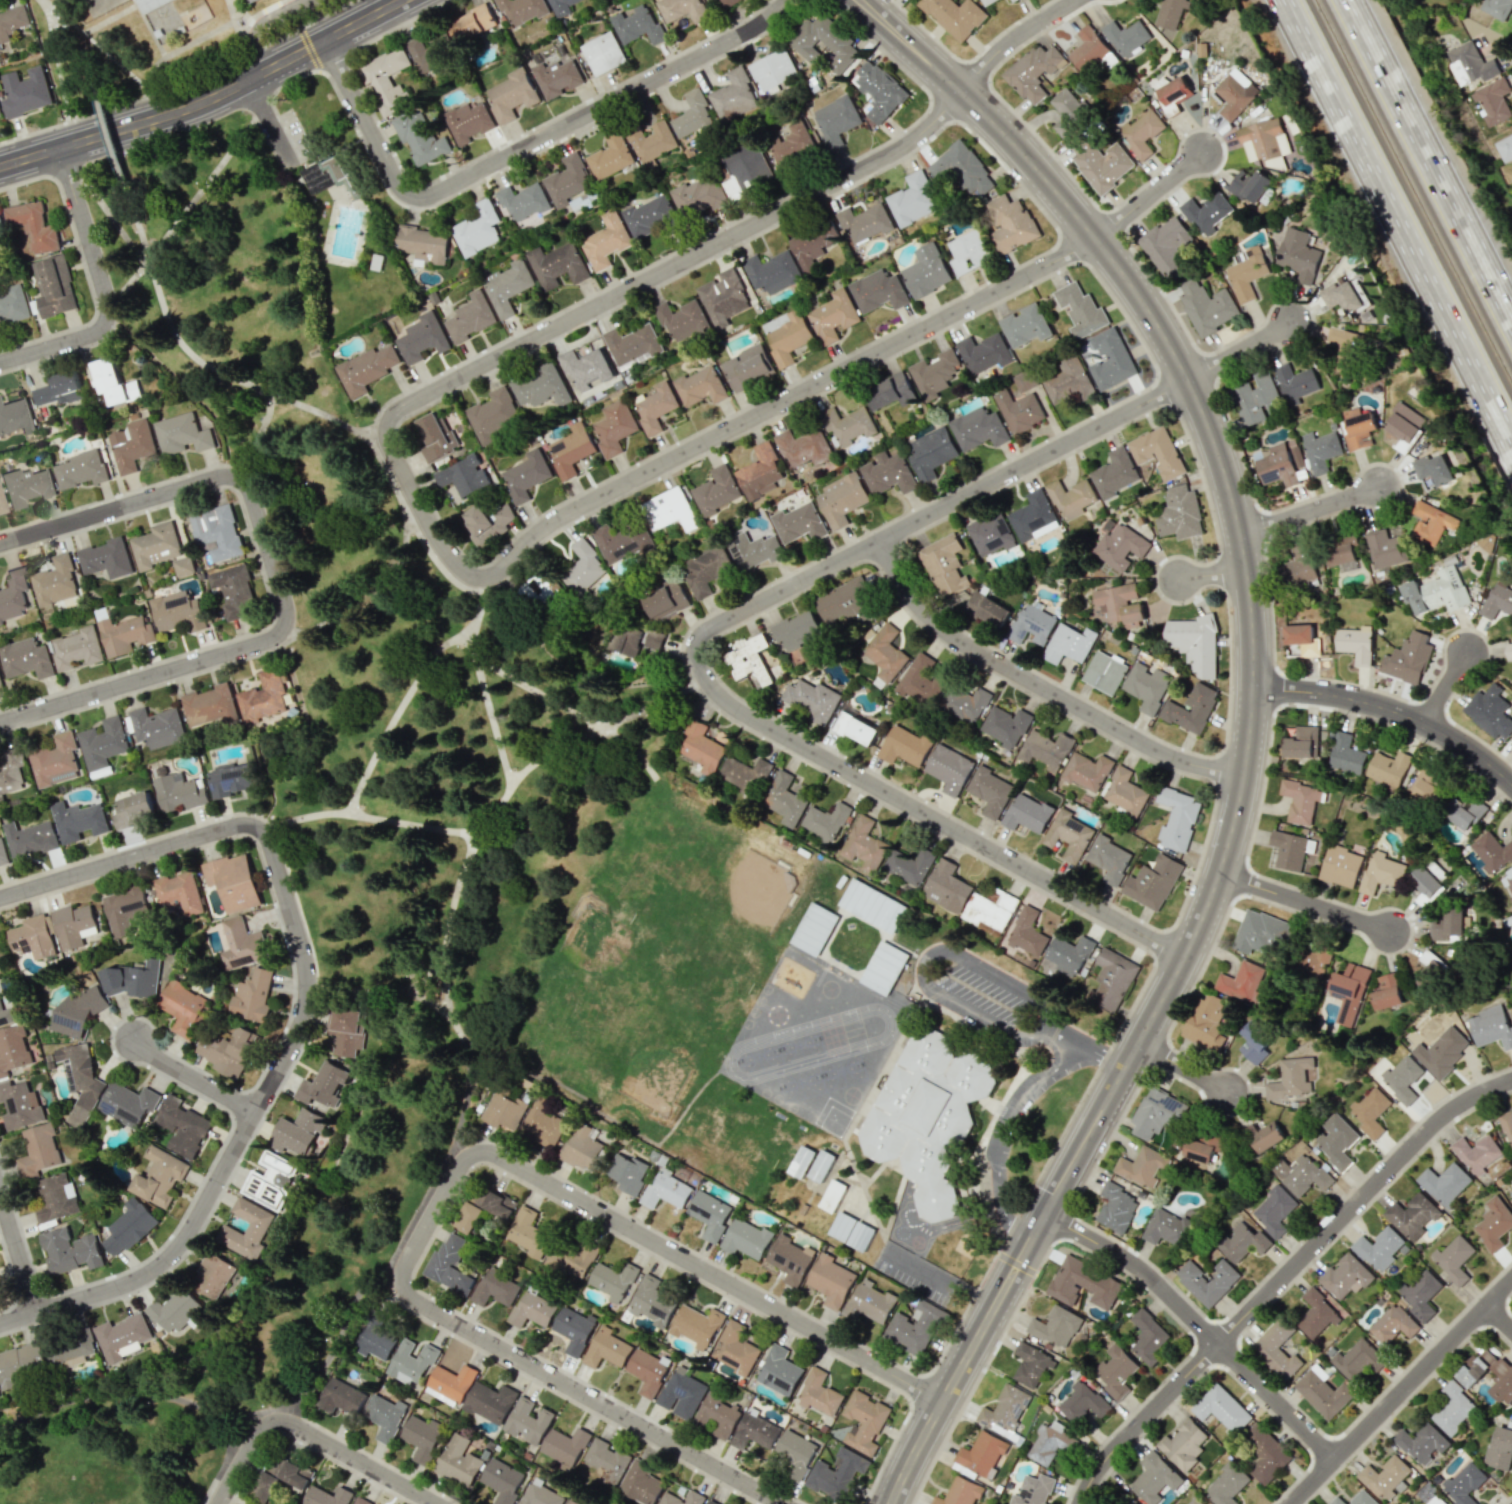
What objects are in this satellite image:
building: (250, 0)
building: (252, 0)
building: (1012, 0)
building: (729, 2)
building: (986, 2)
building: (151, 5)
road: (382, 5)
building: (561, 7)
building: (1496, 8)
building: (522, 9)
building: (682, 9)
building: (1169, 14)
building: (954, 16)
building: (12, 21)
building: (473, 23)
road: (267, 25)
building: (637, 25)
building: (1126, 36)
road: (1013, 37)
road: (63, 38)
building: (825, 42)
building: (0, 48)
building: (1088, 49)
building: (432, 51)
building: (603, 53)
building: (1470, 63)
building: (773, 69)
road: (55, 71)
building: (1033, 72)
building: (557, 78)
building: (387, 81)
building: (879, 90)
building: (26, 92)
building: (1234, 93)
building: (1173, 94)
building: (512, 95)
building: (734, 95)
road: (209, 99)
building: (1492, 100)
building: (1068, 111)
building: (0, 113)
building: (693, 117)
building: (836, 120)
building: (468, 121)
road: (269, 127)
building: (1141, 132)
road: (108, 134)
parking lot: (294, 136)
building: (419, 137)
building: (1263, 140)
building: (651, 142)
building: (793, 145)
road: (523, 147)
building: (1504, 148)
building: (610, 156)
building: (1100, 162)
road: (1430, 162)
building: (962, 169)
building: (745, 170)
road: (209, 175)
building: (328, 175)
building: (568, 180)
building: (1249, 185)
road: (1149, 194)
building: (696, 196)
building: (912, 200)
building: (523, 201)
building: (1206, 212)
building: (648, 215)
road: (1399, 220)
building: (865, 222)
building: (1010, 224)
building: (34, 225)
building: (477, 228)
building: (1, 234)
building: (606, 241)
building: (423, 244)
building: (813, 244)
building: (1167, 246)
building: (968, 252)
building: (1298, 254)
building: (557, 265)
building: (926, 270)
building: (772, 271)
building: (1246, 272)
building: (507, 286)
building: (54, 287)
road: (104, 290)
building: (878, 291)
building: (1341, 296)
building: (724, 297)
road: (1142, 301)
building: (13, 305)
building: (1207, 306)
building: (1080, 310)
building: (833, 316)
building: (469, 317)
building: (682, 319)
building: (1025, 325)
building: (787, 335)
building: (422, 338)
building: (631, 344)
building: (1344, 348)
building: (984, 353)
building: (1110, 359)
building: (748, 367)
building: (587, 368)
building: (365, 369)
building: (935, 373)
building: (1024, 381)
building: (1069, 381)
building: (113, 383)
building: (1295, 383)
building: (540, 386)
building: (700, 386)
building: (58, 389)
building: (891, 391)
building: (1256, 399)
road: (289, 400)
building: (655, 407)
building: (1019, 410)
building: (492, 414)
building: (15, 416)
building: (848, 424)
building: (1404, 425)
building: (614, 427)
building: (978, 428)
building: (1358, 430)
building: (181, 434)
building: (435, 437)
building: (131, 445)
building: (803, 446)
building: (571, 450)
building: (1320, 450)
building: (932, 452)
building: (1157, 452)
building: (1279, 463)
building: (80, 469)
building: (1433, 470)
building: (760, 471)
building: (888, 473)
building: (1114, 473)
building: (526, 475)
building: (463, 476)
building: (25, 486)
building: (716, 490)
building: (1071, 498)
building: (1, 506)
building: (669, 509)
road: (1308, 510)
building: (1180, 513)
building: (1033, 516)
building: (1431, 522)
building: (798, 523)
building: (486, 524)
road: (430, 525)
building: (217, 533)
building: (991, 534)
building: (1485, 540)
building: (624, 541)
building: (157, 546)
building: (1121, 547)
building: (1385, 547)
building: (754, 550)
building: (1343, 552)
building: (106, 558)
building: (944, 565)
building: (1299, 565)
building: (184, 566)
building: (584, 568)
road: (1211, 576)
road: (274, 577)
building: (56, 581)
building: (541, 586)
building: (233, 589)
building: (1436, 591)
building: (13, 595)
building: (666, 599)
building: (845, 601)
building: (1497, 601)
building: (1120, 605)
building: (987, 609)
building: (178, 611)
road: (728, 621)
building: (1031, 626)
building: (798, 629)
building: (125, 635)
building: (634, 638)
building: (1302, 639)
building: (1194, 642)
building: (1069, 643)
building: (1355, 643)
building: (77, 648)
building: (1508, 651)
building: (885, 652)
building: (25, 658)
building: (1407, 658)
building: (750, 660)
building: (1104, 672)
building: (922, 680)
road: (1041, 686)
building: (0, 687)
building: (1146, 687)
road: (1445, 689)
building: (263, 697)
building: (813, 699)
building: (965, 702)
building: (210, 705)
building: (1191, 708)
road: (1392, 711)
building: (1489, 711)
building: (1006, 726)
building: (157, 727)
building: (856, 728)
building: (1302, 742)
building: (103, 743)
building: (906, 745)
building: (702, 747)
building: (1046, 749)
building: (1346, 754)
building: (56, 760)
park: (346, 762)
building: (949, 768)
building: (11, 771)
building: (1086, 771)
building: (1387, 771)
building: (744, 773)
building: (231, 780)
building: (1428, 785)
building: (179, 791)
building: (989, 791)
building: (1124, 791)
building: (784, 799)
building: (1301, 800)
building: (132, 810)
building: (1027, 813)
building: (1464, 813)
building: (1177, 819)
building: (78, 820)
building: (825, 820)
building: (1069, 835)
building: (30, 838)
building: (863, 846)
building: (1492, 852)
building: (3, 853)
building: (1109, 858)
building: (909, 865)
building: (1340, 866)
building: (1380, 872)
building: (1507, 880)
building: (233, 881)
building: (1152, 882)
building: (1426, 885)
building: (946, 886)
building: (179, 892)
road: (1306, 903)
building: (873, 905)
building: (125, 909)
building: (990, 909)
building: (74, 926)
building: (1448, 927)
building: (814, 929)
building: (1027, 932)
building: (1262, 933)
building: (33, 937)
building: (242, 944)
building: (1068, 954)
road: (939, 955)
building: (1311, 962)
building: (884, 967)
building: (1430, 970)
building: (133, 978)
building: (1111, 979)
building: (1242, 981)
building: (1348, 992)
building: (1387, 992)
building: (253, 994)
building: (184, 1007)
building: (78, 1010)
road: (301, 1013)
building: (7, 1016)
road: (449, 1016)
building: (1207, 1022)
building: (1491, 1027)
building: (347, 1031)
building: (1255, 1042)
building: (13, 1049)
building: (1441, 1051)
building: (229, 1052)
road: (1184, 1068)
building: (1402, 1078)
road: (194, 1079)
building: (80, 1080)
building: (1292, 1080)
building: (325, 1086)
building: (128, 1104)
building: (20, 1105)
road: (1103, 1108)
building: (504, 1109)
building: (1156, 1112)
building: (1370, 1112)
building: (927, 1114)
building: (1507, 1125)
building: (182, 1126)
building: (544, 1127)
building: (299, 1131)
building: (1264, 1136)
building: (1336, 1140)
road: (997, 1144)
building: (1203, 1145)
building: (582, 1148)
building: (38, 1150)
building: (1477, 1153)
building: (801, 1161)
building: (821, 1165)
building: (1143, 1166)
building: (627, 1172)
building: (1300, 1174)
building: (159, 1176)
road: (455, 1176)
building: (270, 1180)
building: (1444, 1183)
building: (666, 1190)
building: (1511, 1193)
building: (832, 1195)
building: (56, 1198)
building: (500, 1204)
building: (1116, 1207)
building: (1275, 1211)
building: (710, 1214)
building: (1412, 1215)
building: (468, 1217)
building: (1493, 1223)
building: (129, 1226)
building: (257, 1228)
building: (1166, 1228)
building: (851, 1231)
building: (528, 1233)
building: (746, 1238)
building: (1243, 1242)
building: (1379, 1248)
building: (70, 1250)
road: (19, 1251)
building: (571, 1258)
building: (790, 1259)
building: (1453, 1259)
building: (451, 1264)
building: (213, 1275)
building: (1346, 1276)
road: (1282, 1277)
building: (613, 1280)
building: (830, 1280)
building: (1207, 1281)
building: (1083, 1283)
building: (496, 1288)
road: (935, 1288)
building: (1421, 1295)
building: (652, 1302)
building: (870, 1302)
building: (176, 1310)
building: (532, 1310)
building: (1317, 1314)
road: (1501, 1316)
building: (1393, 1324)
road: (1200, 1325)
building: (696, 1326)
building: (914, 1327)
building: (1056, 1327)
building: (574, 1330)
building: (1148, 1336)
building: (122, 1337)
building: (376, 1342)
building: (607, 1348)
building: (734, 1348)
building: (69, 1349)
building: (1277, 1349)
building: (1358, 1360)
building: (411, 1362)
building: (1031, 1363)
building: (21, 1365)
building: (647, 1371)
building: (779, 1371)
building: (1117, 1371)
building: (451, 1383)
building: (1502, 1383)
building: (1323, 1392)
building: (682, 1393)
building: (819, 1393)
road: (1401, 1393)
building: (341, 1396)
building: (490, 1402)
building: (1082, 1403)
building: (1222, 1408)
building: (1453, 1408)
building: (1004, 1410)
building: (717, 1415)
building: (385, 1416)
building: (528, 1421)
building: (864, 1421)
building: (754, 1431)
road: (235, 1437)
road: (310, 1437)
building: (423, 1437)
building: (1422, 1442)
building: (1050, 1443)
building: (1183, 1444)
building: (565, 1445)
building: (1500, 1449)
building: (796, 1452)
building: (981, 1453)
building: (1265, 1453)
building: (608, 1460)
building: (459, 1461)
building: (836, 1474)
building: (1384, 1476)
building: (281, 1478)
building: (1155, 1478)
building: (503, 1480)
building: (641, 1483)
building: (1464, 1483)
building: (1226, 1485)
building: (1033, 1490)
building: (961, 1492)
building: (540, 1494)
building: (327, 1496)
building: (681, 1498)
building: (1362, 1498)
building: (361, 1500)
building: (1436, 1500)
building: (1195, 1501)
building: (1337, 1501)
building: (242, 1502)
building: (569, 1502)
building: (711, 1502)
building: (1126, 1503)

